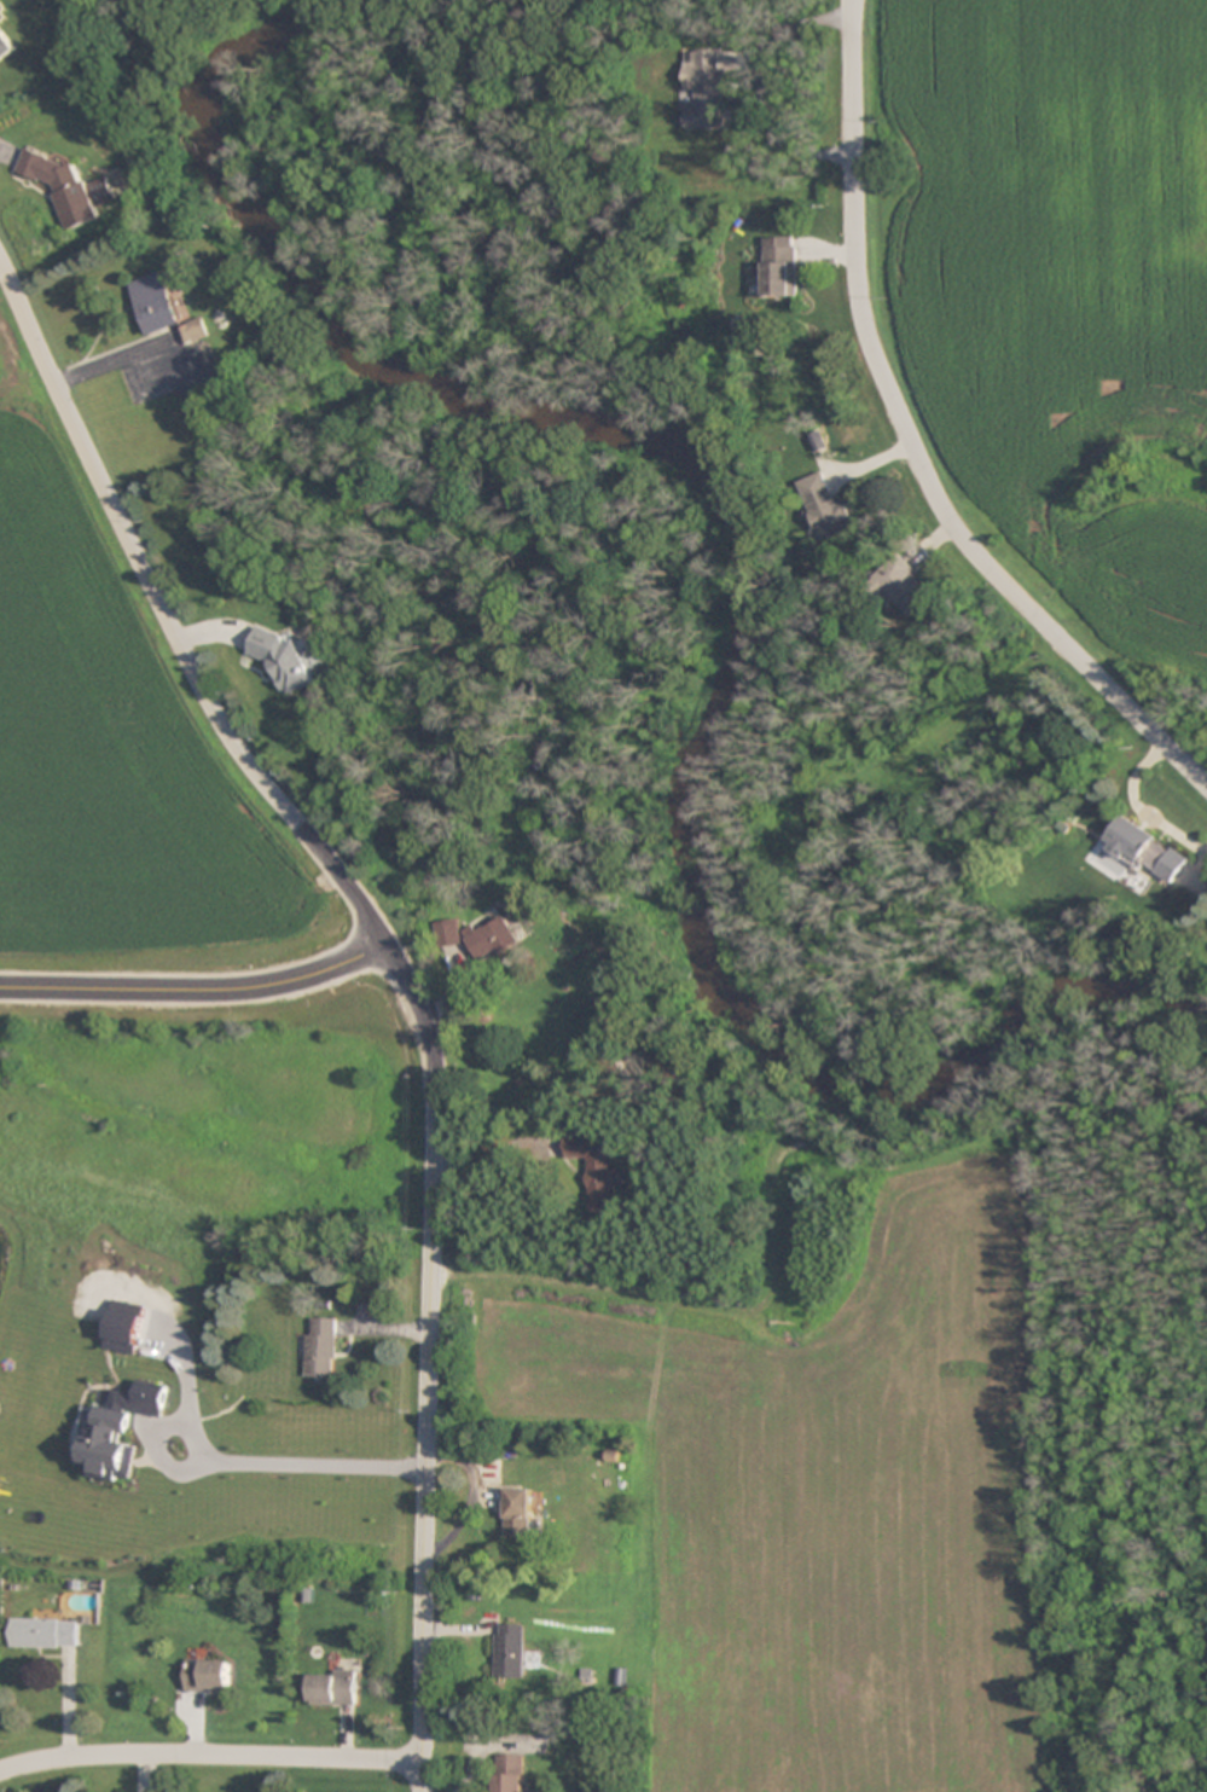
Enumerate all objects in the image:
building: (5, 46)
building: (704, 89)
building: (66, 189)
building: (781, 267)
building: (163, 311)
crop: (1046, 314)
road: (912, 447)
building: (826, 506)
river: (753, 575)
building: (907, 586)
road: (166, 620)
building: (285, 660)
building: (1145, 852)
building: (447, 933)
building: (492, 939)
road: (197, 988)
building: (594, 1170)
building: (320, 1350)
road: (428, 1359)
building: (267, 1448)
road: (297, 1462)
building: (515, 1512)
building: (45, 1632)
building: (509, 1651)
building: (207, 1676)
building: (332, 1687)
road: (209, 1756)
building: (506, 1773)

